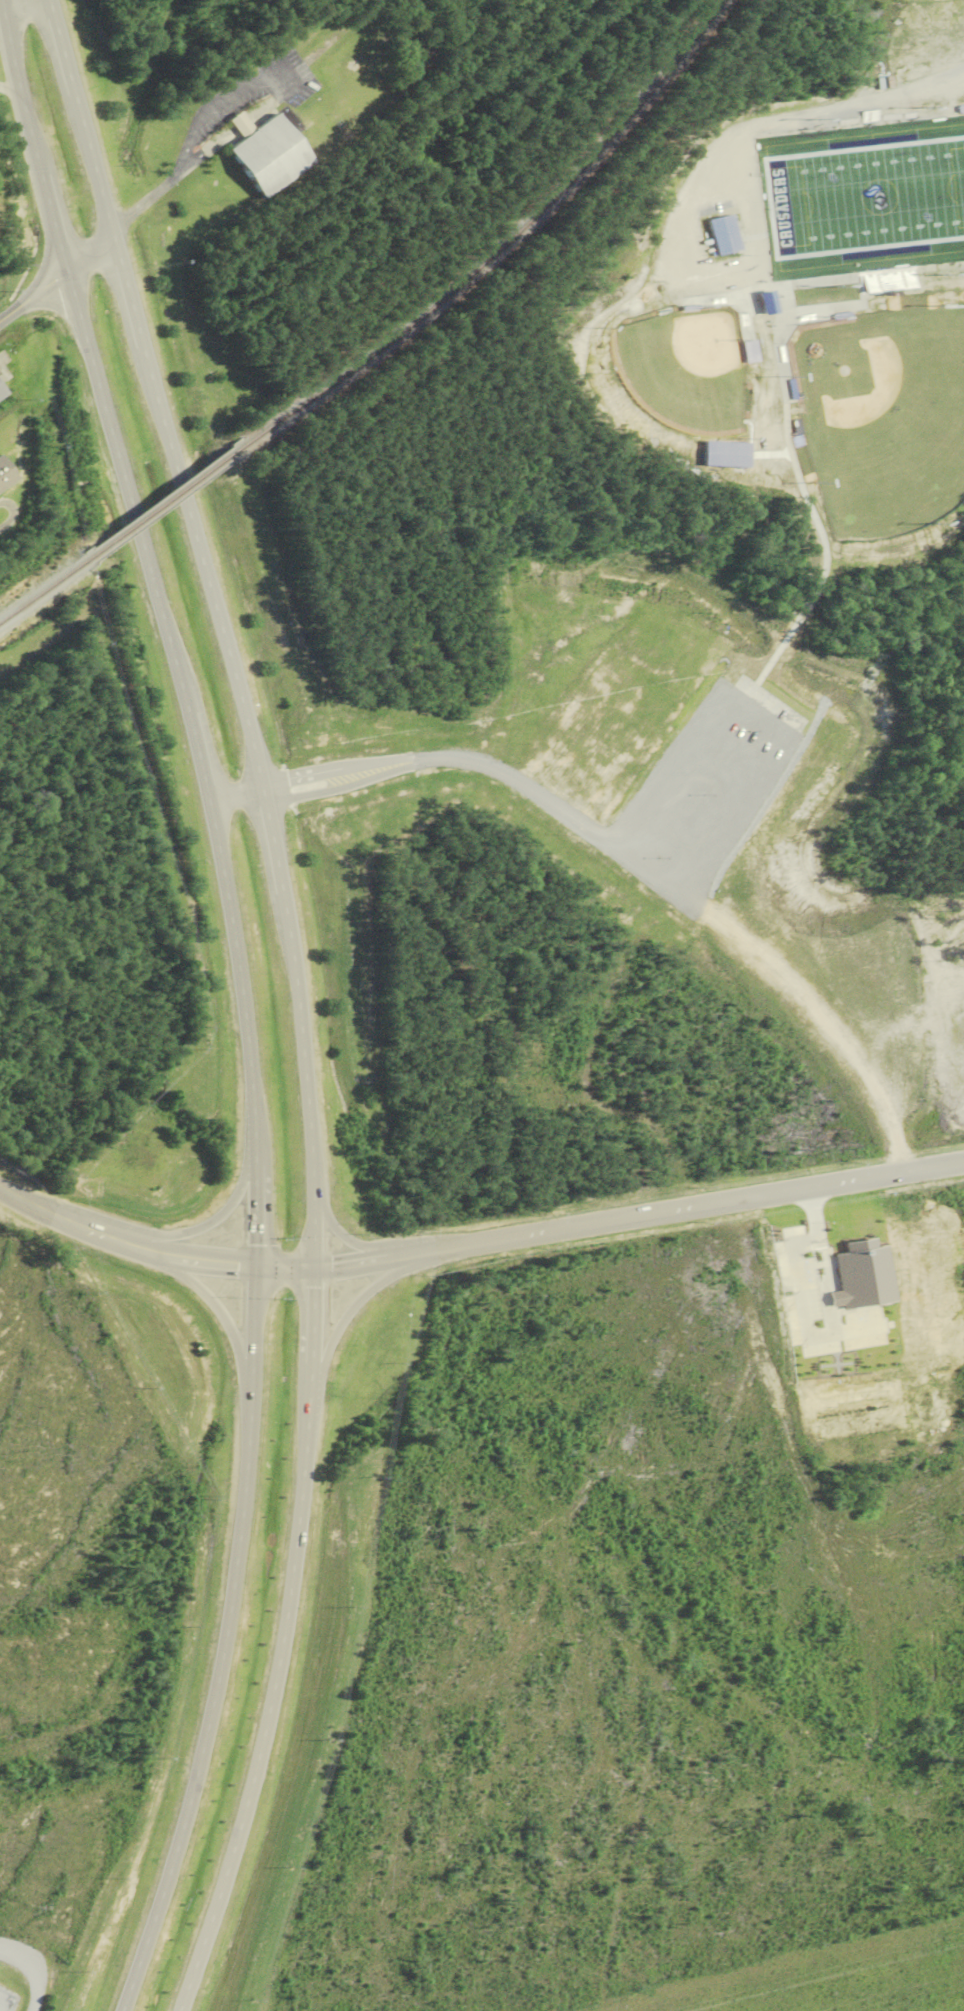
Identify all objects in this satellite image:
road: (24, 5)
road: (1, 11)
road: (16, 74)
road: (10, 89)
road: (905, 90)
road: (80, 124)
building: (269, 159)
park: (865, 193)
road: (138, 206)
road: (50, 210)
railway: (506, 242)
road: (55, 281)
road: (134, 312)
park: (678, 363)
building: (3, 394)
park: (877, 410)
road: (123, 470)
building: (6, 475)
railway: (170, 502)
road: (210, 582)
railway: (47, 591)
road: (749, 711)
road: (195, 733)
road: (332, 765)
road: (336, 782)
parking lot: (698, 782)
road: (237, 795)
road: (545, 802)
road: (277, 859)
road: (239, 973)
road: (812, 1012)
road: (306, 1098)
road: (19, 1199)
road: (254, 1206)
road: (679, 1210)
road: (208, 1224)
road: (95, 1230)
road: (336, 1234)
road: (203, 1261)
road: (324, 1265)
traffic signals: (255, 1266)
traffic signals: (313, 1266)
road: (351, 1306)
road: (218, 1308)
road: (311, 1329)
building: (863, 1341)
road: (246, 1450)
road: (296, 1519)
road: (182, 1824)
road: (237, 1830)
power substation: (5, 2001)

